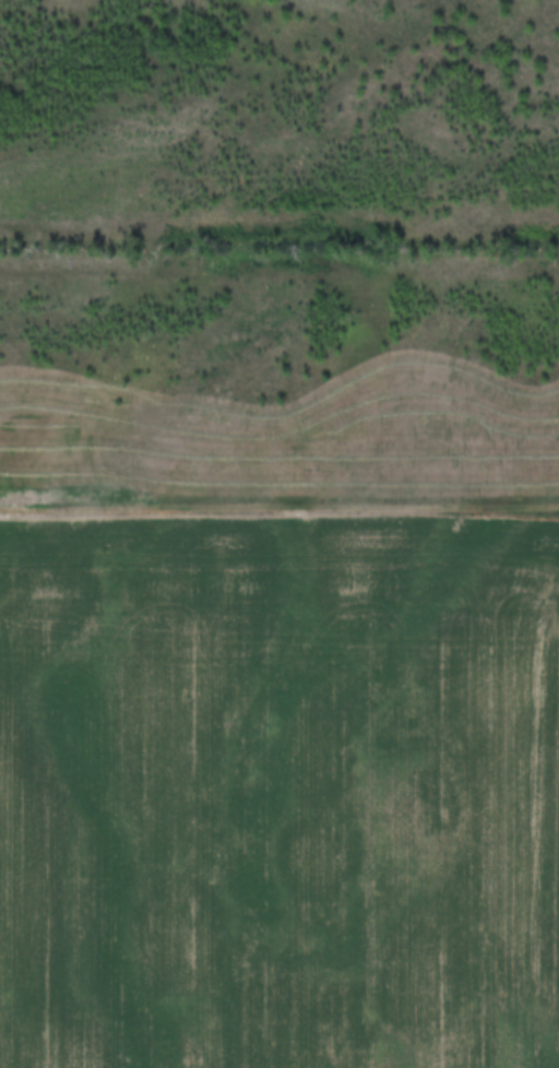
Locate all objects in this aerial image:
road: (279, 507)

